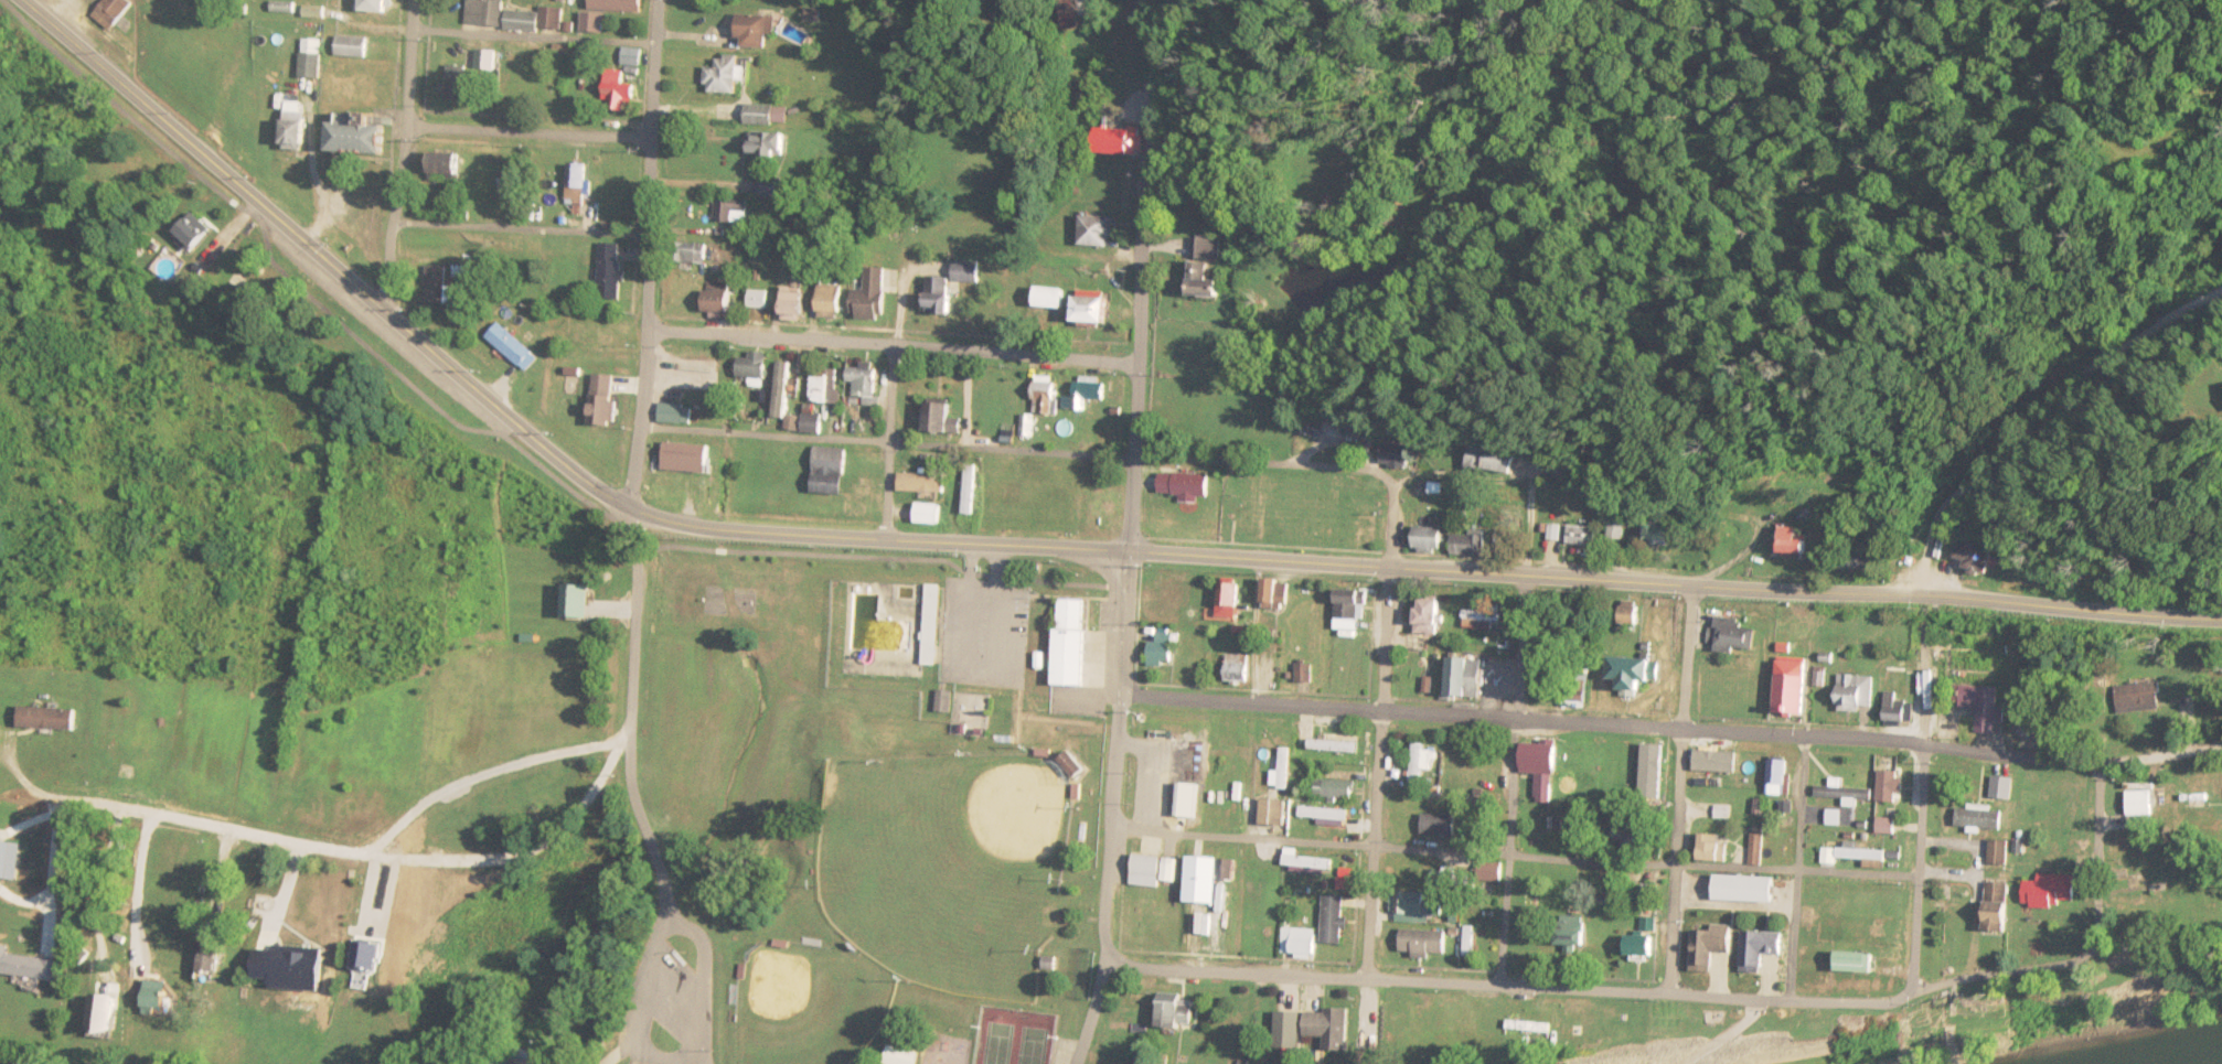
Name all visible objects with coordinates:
building: (620, 6)
building: (381, 7)
building: (114, 10)
building: (485, 12)
building: (814, 17)
building: (535, 21)
building: (595, 22)
building: (758, 31)
road: (535, 36)
building: (355, 46)
building: (488, 61)
building: (726, 75)
building: (460, 83)
building: (565, 83)
building: (616, 99)
building: (244, 103)
building: (727, 112)
building: (768, 114)
building: (297, 130)
road: (531, 132)
building: (361, 135)
building: (1118, 142)
building: (769, 144)
road: (406, 157)
building: (512, 186)
building: (578, 187)
building: (772, 187)
building: (733, 212)
road: (522, 229)
building: (1098, 232)
building: (194, 234)
road: (649, 254)
building: (699, 256)
road: (329, 262)
building: (1206, 269)
building: (968, 270)
building: (613, 271)
building: (437, 286)
building: (874, 295)
building: (941, 295)
building: (1049, 298)
building: (832, 302)
building: (723, 303)
building: (798, 305)
building: (1093, 311)
road: (900, 323)
building: (512, 346)
road: (893, 347)
building: (756, 366)
building: (866, 383)
building: (827, 386)
building: (783, 387)
building: (1046, 396)
building: (1086, 396)
building: (603, 409)
building: (676, 413)
building: (943, 419)
road: (890, 443)
road: (1087, 454)
building: (1396, 454)
building: (691, 455)
building: (1494, 459)
building: (833, 472)
road: (1134, 483)
building: (925, 484)
building: (1185, 485)
building: (971, 491)
building: (1107, 508)
building: (1249, 510)
building: (929, 515)
building: (1663, 533)
building: (1431, 539)
building: (1582, 539)
building: (1470, 544)
building: (1797, 546)
building: (1977, 556)
road: (1431, 570)
road: (987, 583)
building: (1175, 589)
park: (733, 601)
building: (1228, 602)
road: (1524, 602)
building: (578, 603)
building: (1272, 603)
building: (1353, 606)
building: (1634, 614)
building: (1432, 619)
building: (933, 626)
parking lot: (983, 630)
building: (1734, 636)
building: (1072, 643)
building: (1163, 652)
building: (2017, 654)
building: (1903, 665)
building: (1239, 669)
building: (1306, 675)
road: (984, 677)
building: (1636, 677)
building: (1468, 678)
building: (1795, 689)
building: (1856, 694)
building: (2139, 697)
building: (944, 701)
building: (1984, 707)
building: (1895, 708)
building: (49, 718)
building: (2033, 724)
road: (1381, 727)
road: (1674, 729)
building: (1306, 733)
building: (1342, 742)
building: (1541, 759)
building: (1420, 762)
building: (1077, 765)
building: (1283, 770)
building: (1645, 770)
building: (1780, 776)
building: (1334, 786)
building: (1892, 786)
building: (2004, 788)
road: (1679, 789)
building: (1842, 795)
building: (2190, 798)
road: (634, 804)
building: (2139, 804)
park: (859, 809)
building: (1275, 812)
building: (1325, 813)
road: (1923, 813)
building: (1980, 818)
building: (1441, 826)
building: (1888, 826)
road: (1313, 841)
building: (1637, 842)
building: (1758, 846)
building: (1714, 847)
road: (1511, 851)
road: (339, 852)
building: (2000, 852)
building: (1852, 855)
building: (10, 859)
building: (1310, 863)
park: (949, 867)
road: (1717, 868)
road: (1802, 869)
building: (1155, 870)
building: (1210, 878)
building: (1347, 884)
building: (1749, 889)
building: (2051, 891)
building: (1643, 893)
building: (2000, 906)
building: (1336, 920)
building: (1876, 927)
building: (1577, 938)
building: (1647, 938)
building: (1301, 942)
building: (1425, 943)
building: (1713, 946)
building: (1765, 948)
building: (268, 953)
road: (2107, 954)
building: (214, 957)
building: (1838, 963)
building: (29, 965)
road: (1517, 982)
road: (652, 990)
parking lot: (679, 998)
park: (805, 1004)
building: (1179, 1011)
road: (1096, 1014)
building: (110, 1017)
building: (1333, 1028)
building: (1294, 1033)
park: (998, 1043)
park: (1032, 1045)
building: (907, 1056)
road: (663, 1058)
road: (640, 1062)

